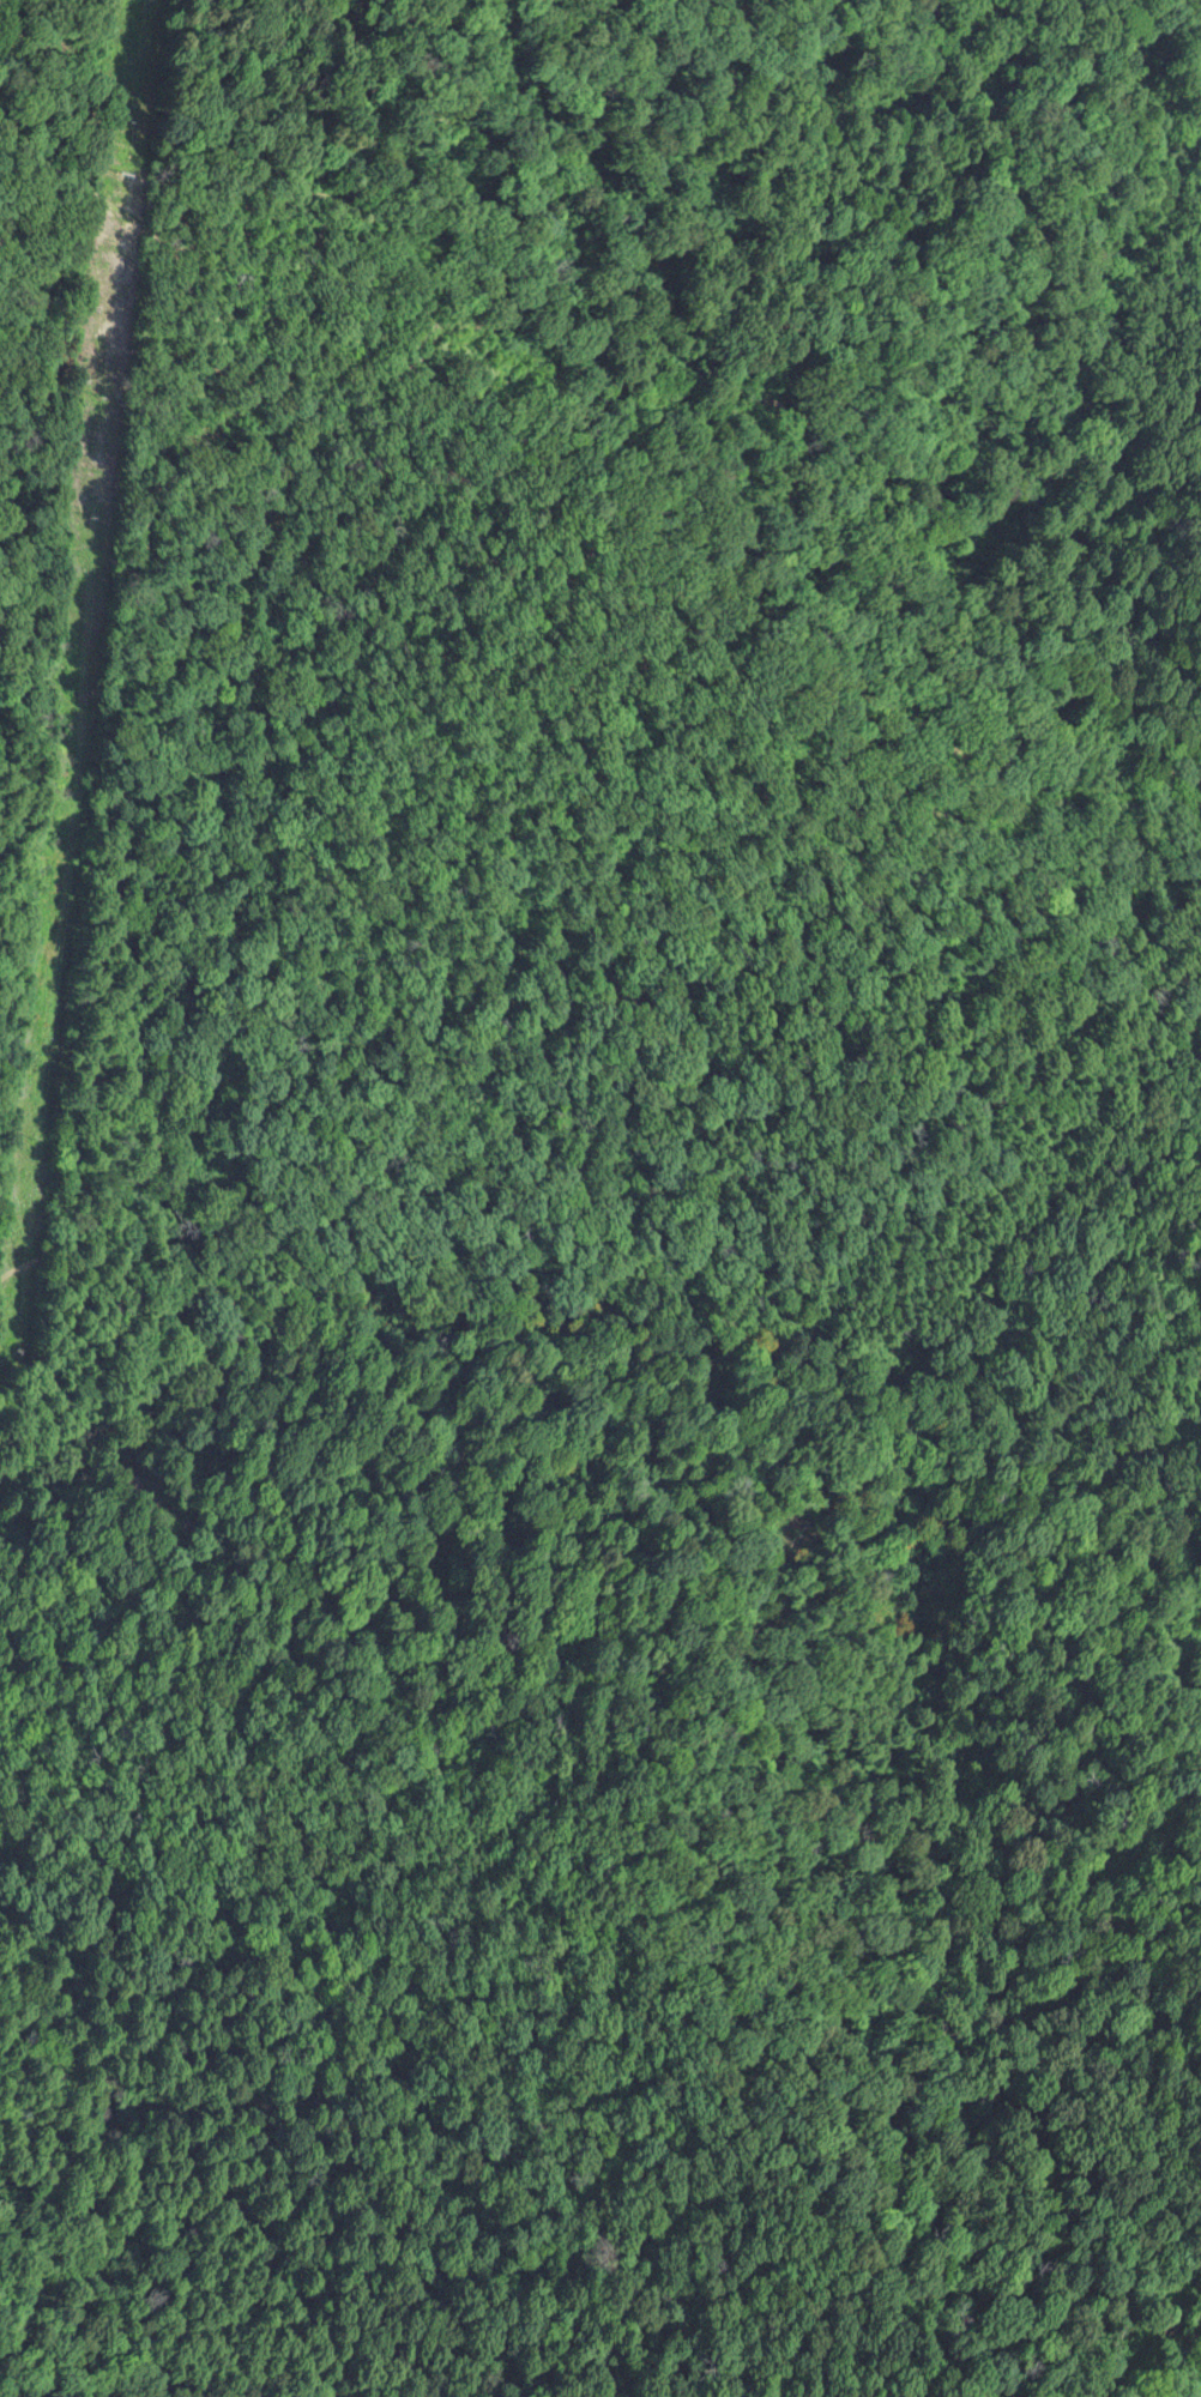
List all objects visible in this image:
road: (64, 654)

